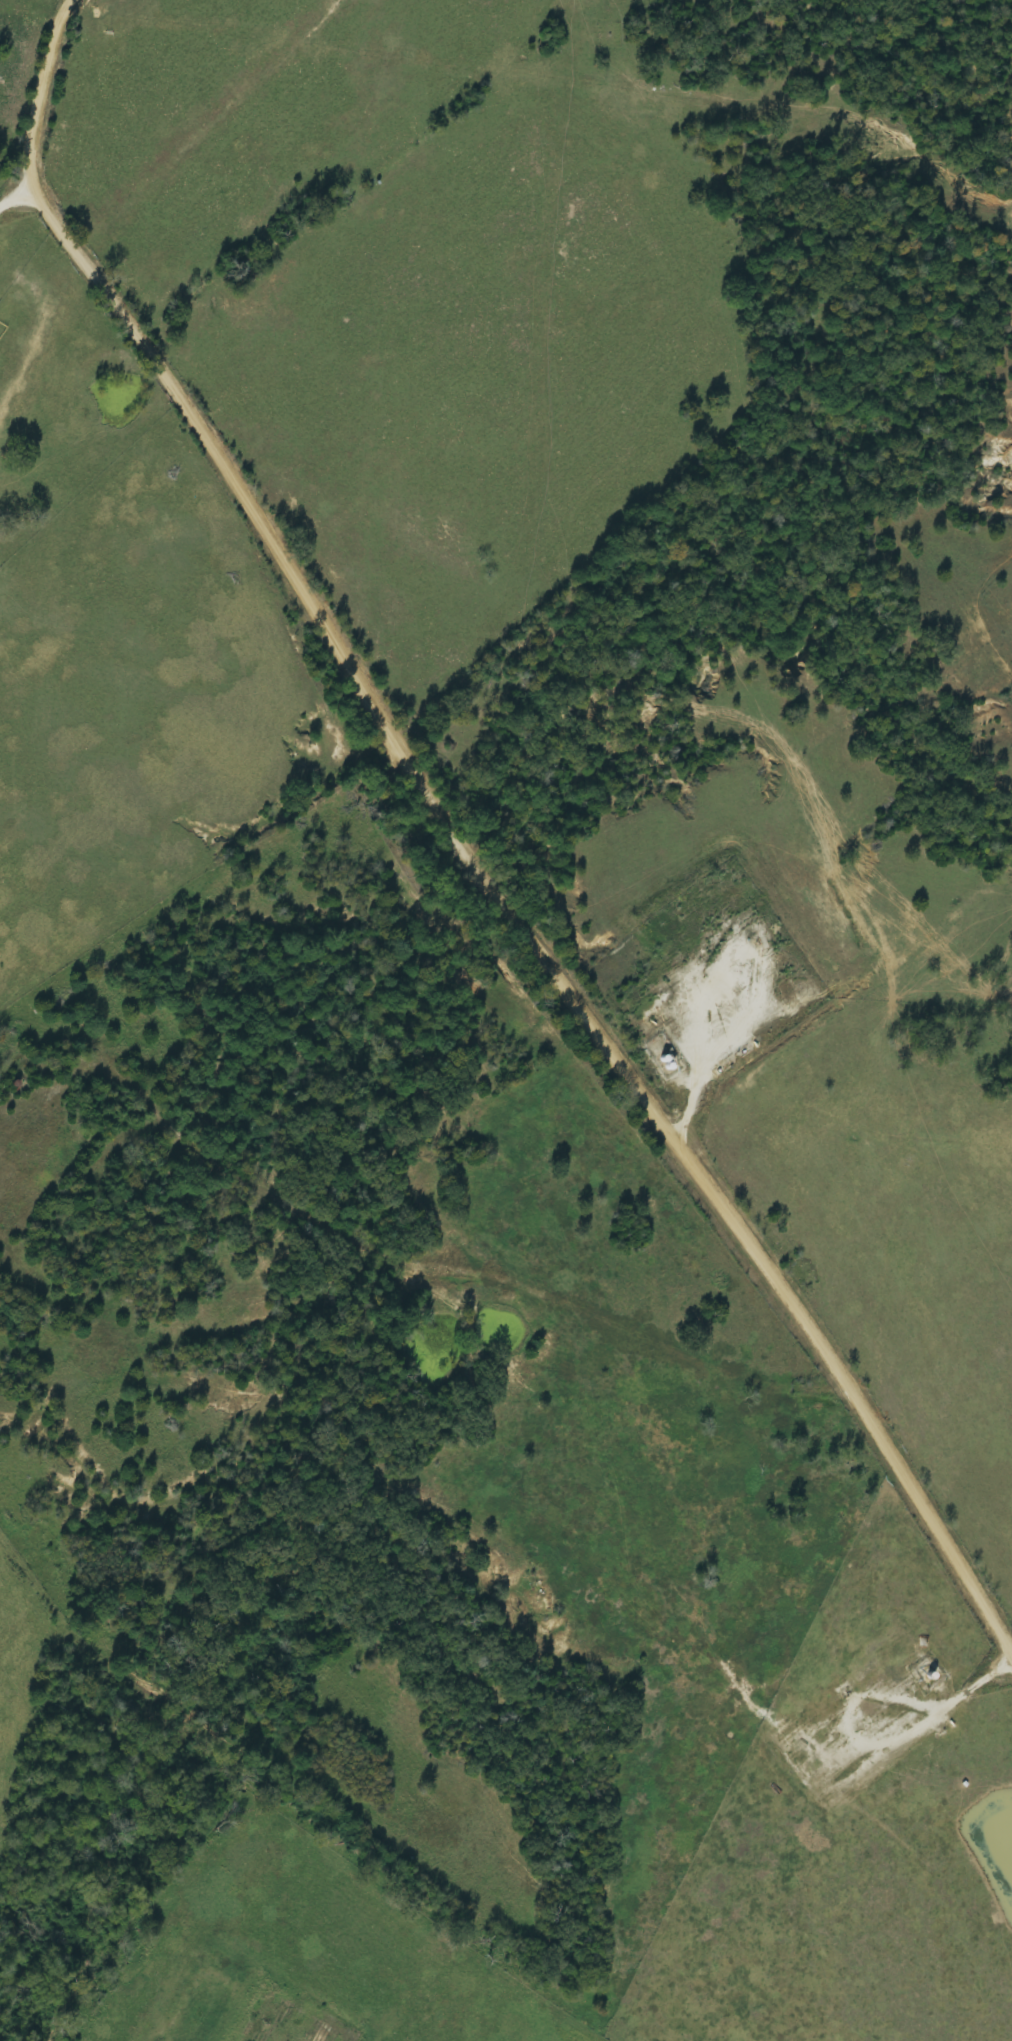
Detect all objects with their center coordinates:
road: (198, 459)
road: (763, 1282)

